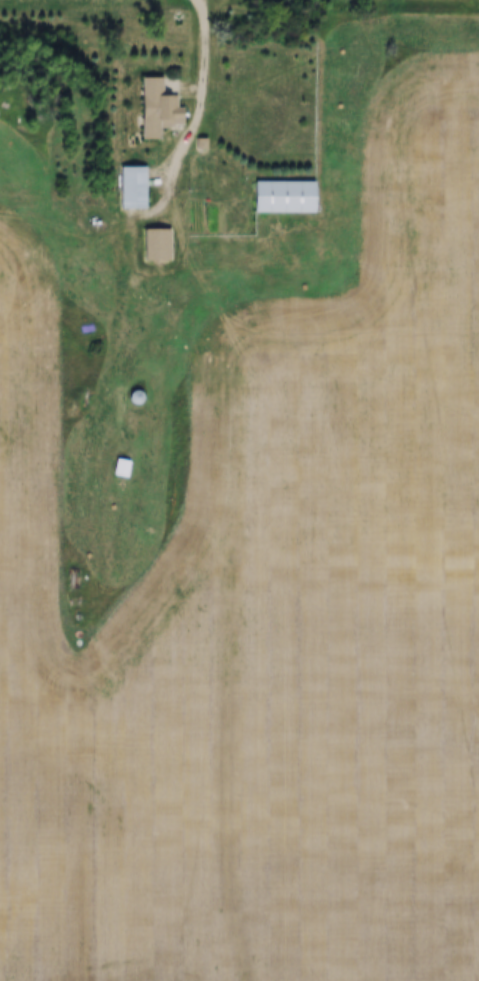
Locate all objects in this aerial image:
building: (158, 106)
road: (193, 118)
building: (130, 188)
building: (282, 197)
building: (155, 245)
building: (134, 398)
building: (120, 469)
road: (33, 594)

